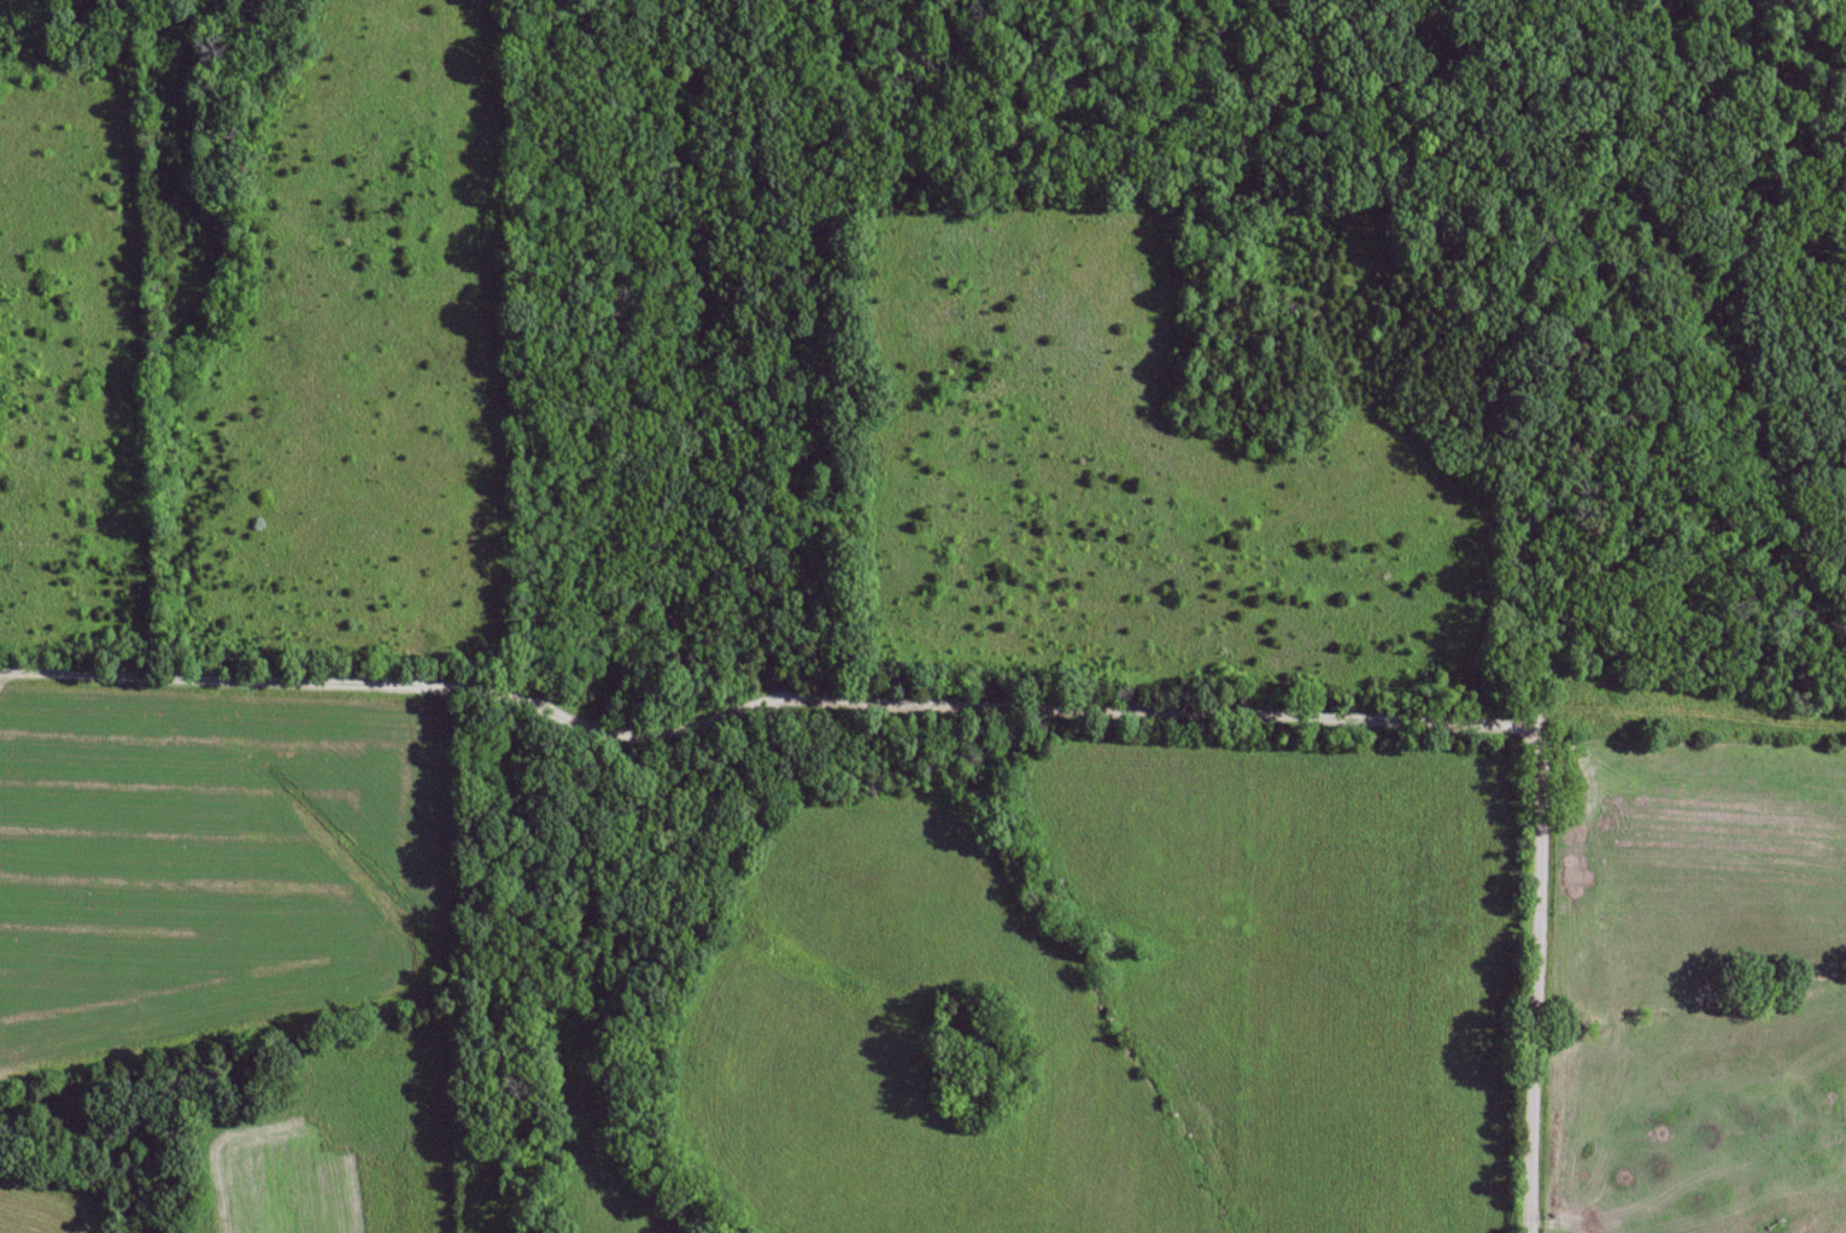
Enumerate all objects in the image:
road: (1012, 705)

